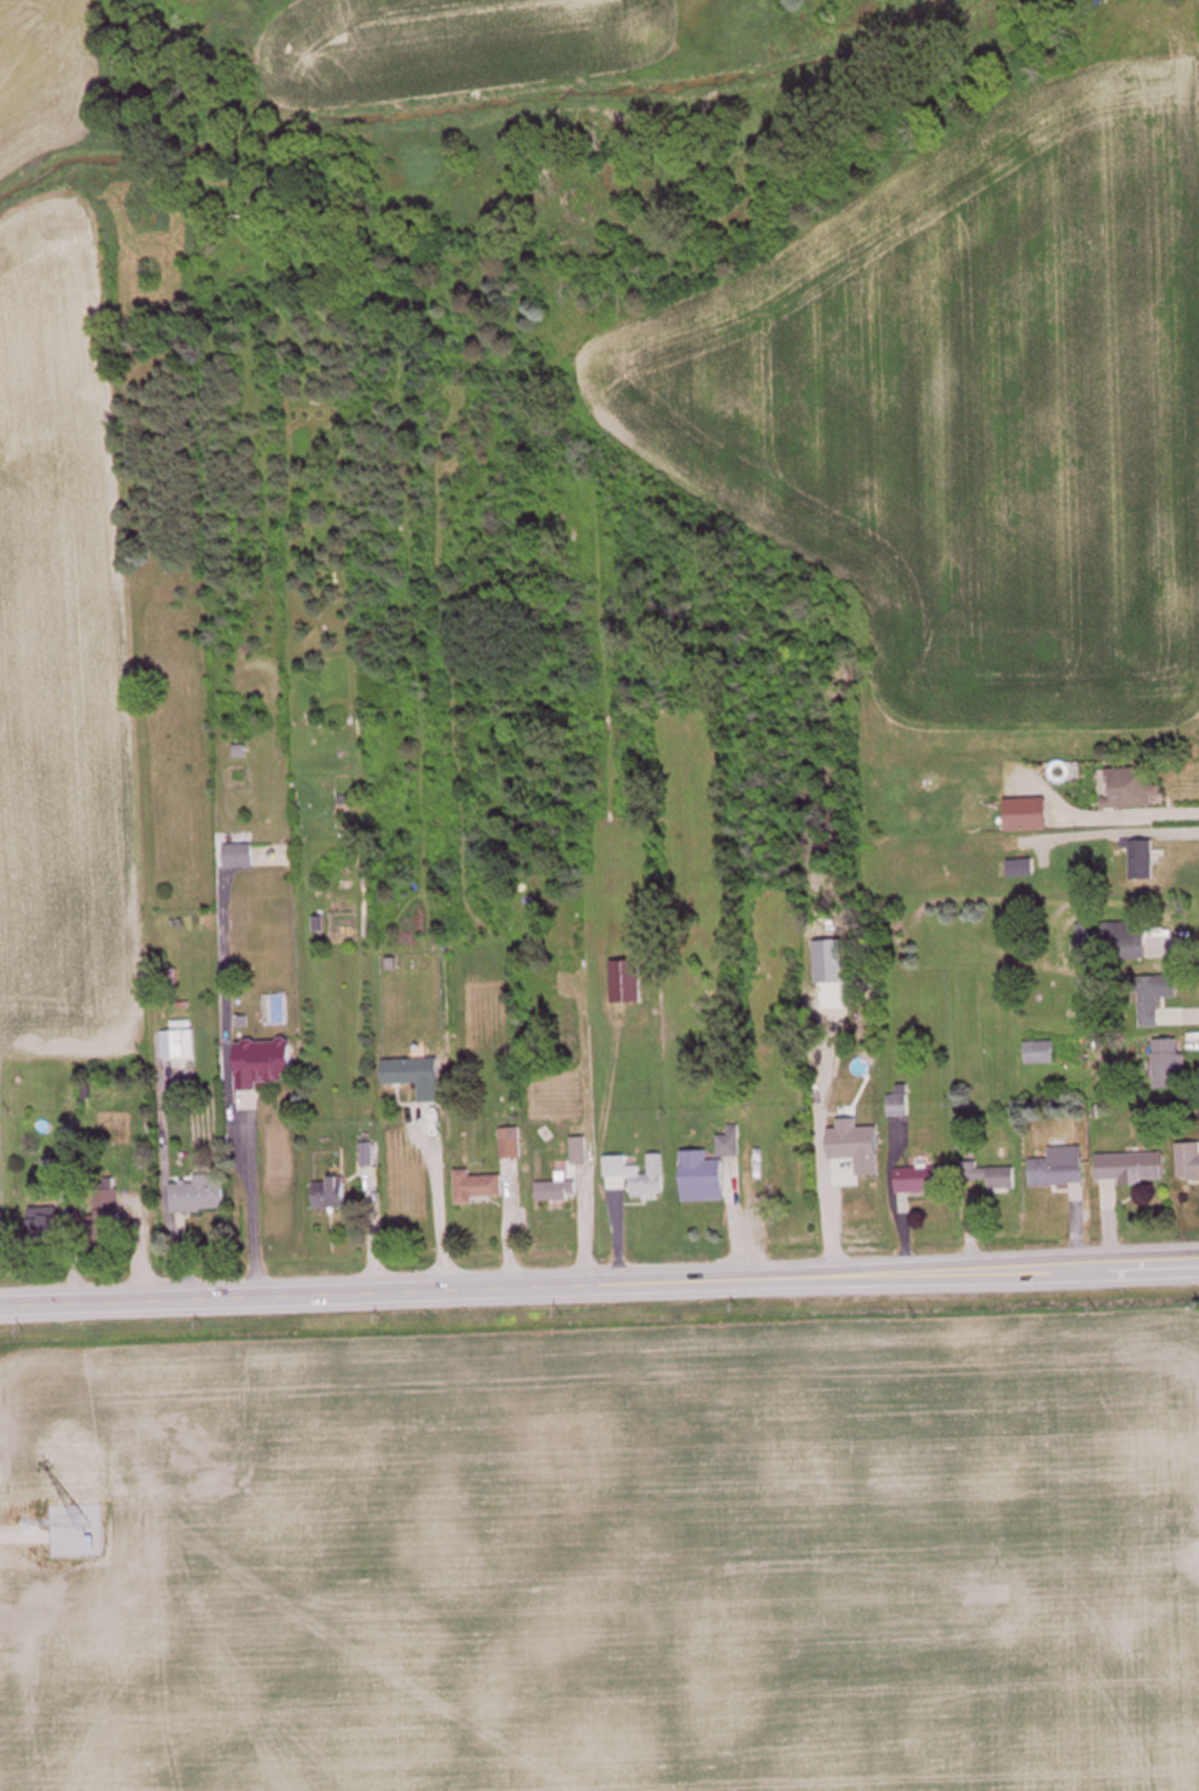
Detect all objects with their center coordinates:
building: (1135, 793)
building: (1030, 816)
building: (241, 859)
building: (1142, 861)
building: (1018, 871)
building: (1113, 943)
building: (628, 984)
building: (1154, 999)
building: (184, 1022)
building: (181, 1046)
building: (1041, 1054)
building: (267, 1064)
building: (1171, 1068)
building: (418, 1078)
building: (900, 1107)
building: (1189, 1163)
building: (780, 1164)
building: (65, 1168)
building: (1061, 1170)
building: (1133, 1170)
building: (704, 1180)
building: (1002, 1181)
building: (651, 1182)
building: (924, 1182)
building: (479, 1190)
building: (558, 1191)
building: (333, 1196)
building: (200, 1198)
building: (109, 1206)
building: (66, 1213)
road: (599, 1283)

